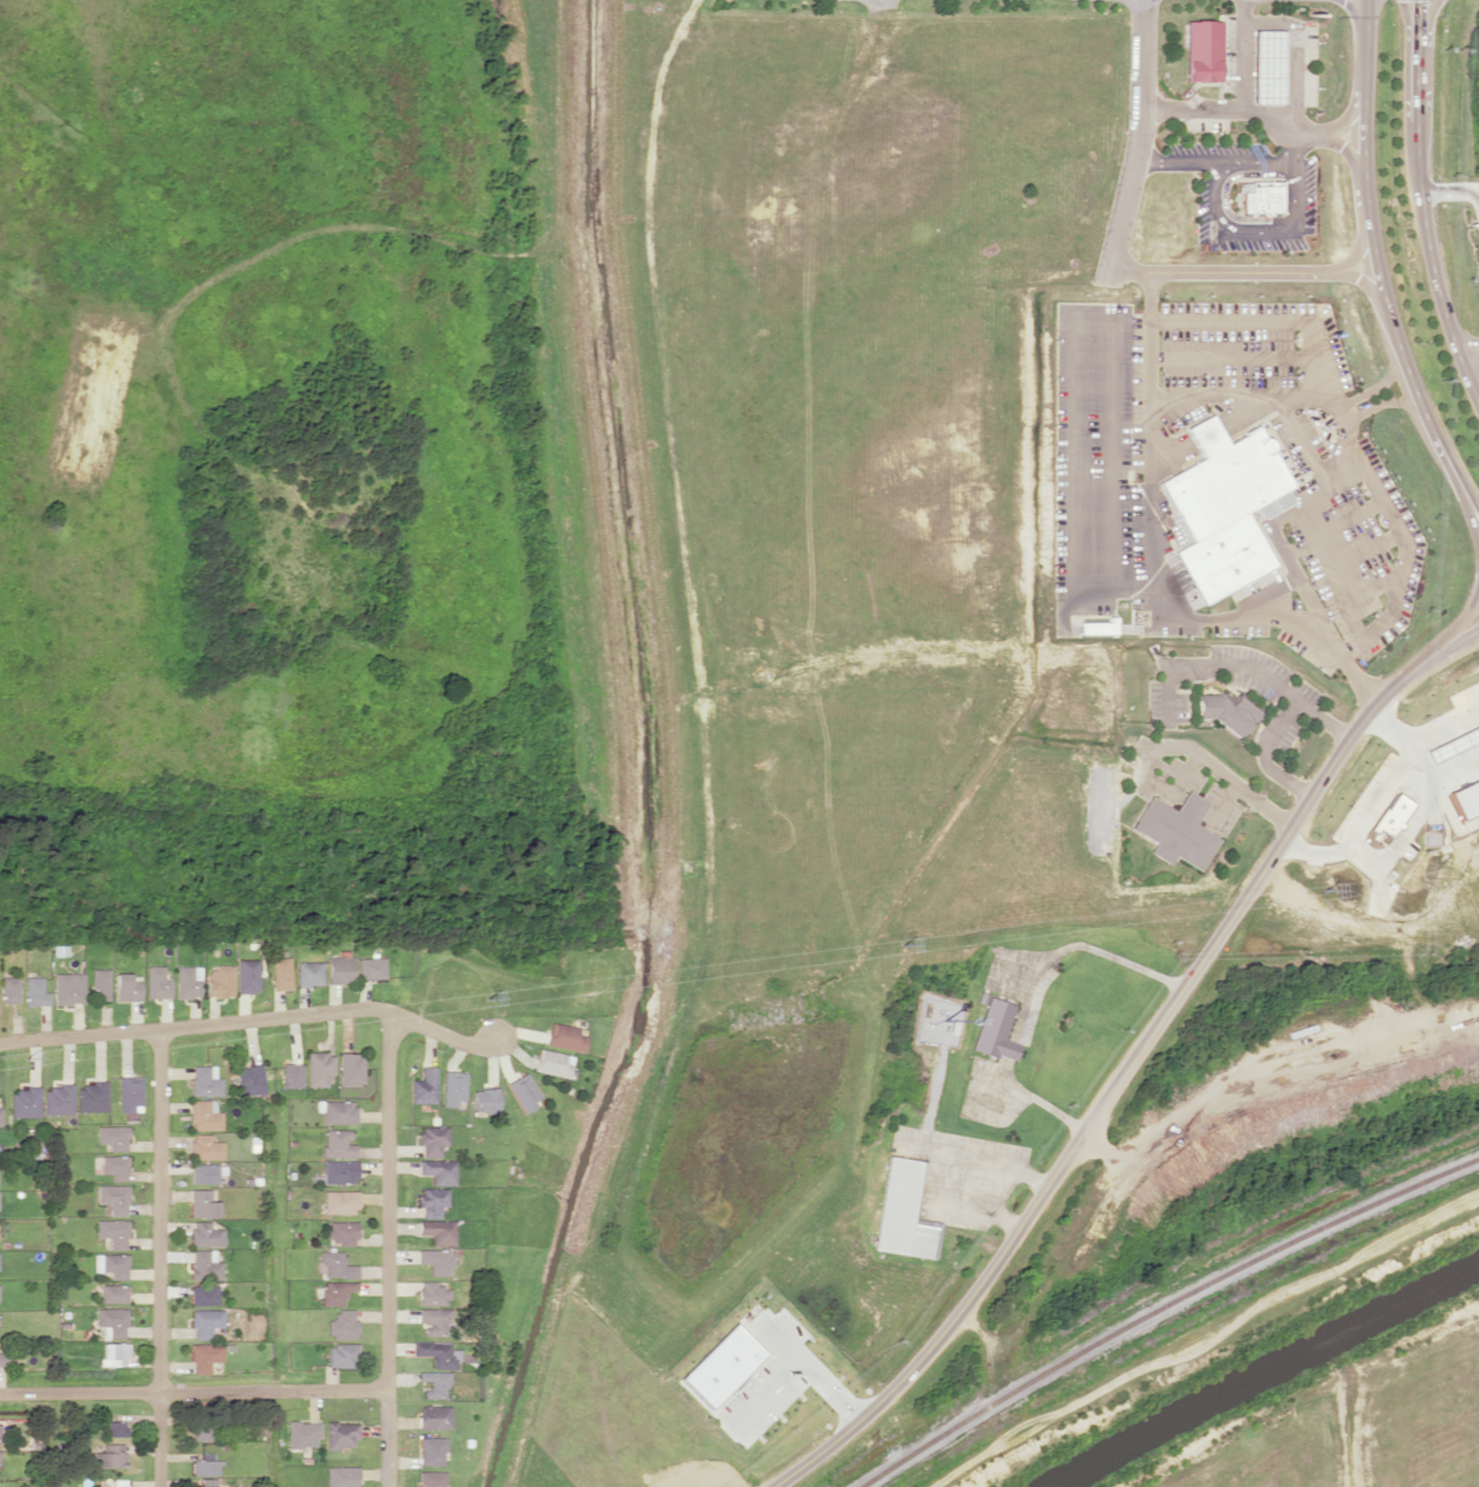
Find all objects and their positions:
road: (1422, 20)
building: (1201, 50)
road: (1286, 52)
building: (1266, 66)
road: (1238, 84)
road: (1190, 109)
road: (1315, 132)
road: (1177, 161)
building: (1263, 197)
road: (1422, 204)
road: (1221, 225)
road: (1117, 261)
road: (1380, 267)
road: (1468, 351)
building: (1225, 506)
building: (1099, 626)
building: (1228, 710)
building: (1466, 797)
building: (1391, 814)
building: (1176, 830)
power tower: (1325, 890)
power tower: (901, 945)
building: (371, 968)
building: (339, 969)
building: (281, 973)
building: (309, 973)
building: (247, 975)
building: (188, 981)
building: (220, 981)
building: (100, 983)
building: (157, 983)
building: (126, 987)
building: (68, 988)
building: (10, 989)
building: (36, 992)
power tower: (489, 999)
road: (250, 1021)
building: (995, 1030)
building: (564, 1036)
power tower: (28, 1058)
building: (551, 1062)
road: (1132, 1062)
building: (318, 1068)
building: (350, 1069)
building: (291, 1074)
building: (250, 1079)
building: (206, 1081)
building: (424, 1086)
building: (452, 1087)
building: (523, 1092)
building: (130, 1094)
building: (92, 1097)
building: (58, 1099)
building: (484, 1100)
building: (26, 1102)
building: (338, 1111)
building: (205, 1115)
building: (0, 1116)
building: (114, 1136)
building: (432, 1140)
building: (337, 1143)
building: (206, 1147)
building: (116, 1166)
building: (438, 1170)
building: (337, 1172)
building: (205, 1173)
building: (114, 1198)
building: (340, 1201)
building: (432, 1201)
building: (204, 1202)
building: (903, 1212)
building: (437, 1231)
building: (114, 1232)
building: (341, 1232)
building: (206, 1234)
road: (387, 1249)
road: (160, 1259)
building: (435, 1261)
building: (336, 1264)
building: (112, 1265)
building: (205, 1265)
building: (336, 1291)
building: (114, 1293)
building: (432, 1293)
building: (204, 1295)
railway: (1165, 1311)
building: (112, 1321)
building: (434, 1321)
building: (206, 1322)
building: (342, 1325)
building: (436, 1353)
building: (115, 1354)
building: (341, 1355)
building: (205, 1356)
building: (2, 1359)
river: (1264, 1371)
building: (434, 1383)
road: (192, 1388)
building: (433, 1417)
building: (115, 1428)
building: (0, 1431)
building: (203, 1432)
building: (302, 1433)
building: (340, 1434)
building: (430, 1450)
building: (111, 1456)
building: (206, 1467)
building: (340, 1476)
building: (430, 1478)
building: (120, 1484)
building: (102, 1486)
building: (203, 1486)

